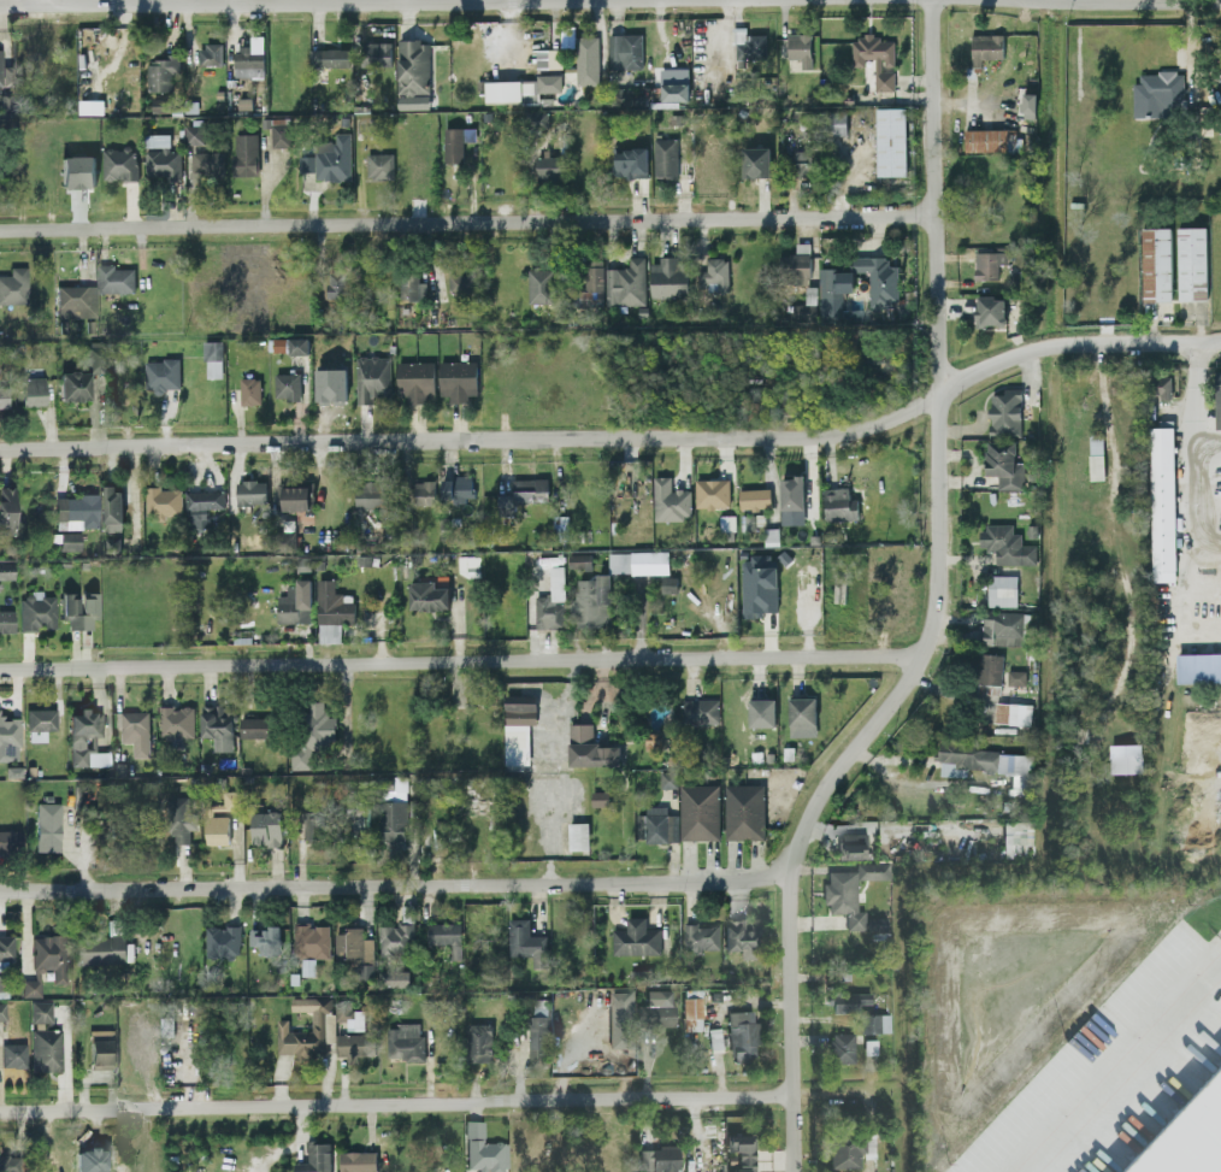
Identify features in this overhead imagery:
road: (51, 0)
road: (1127, 1)
building: (748, 45)
building: (985, 47)
building: (800, 48)
building: (625, 51)
building: (374, 53)
building: (210, 54)
building: (329, 57)
building: (249, 58)
building: (548, 58)
building: (875, 58)
building: (586, 59)
building: (5, 71)
building: (161, 71)
building: (413, 73)
building: (521, 88)
building: (674, 90)
building: (1157, 93)
building: (1028, 102)
building: (90, 106)
building: (837, 122)
building: (279, 131)
building: (195, 132)
building: (990, 139)
building: (890, 140)
building: (456, 142)
building: (244, 153)
building: (161, 155)
building: (665, 157)
building: (332, 158)
building: (206, 161)
building: (630, 161)
building: (715, 161)
building: (756, 161)
building: (119, 163)
building: (804, 163)
building: (379, 165)
building: (548, 166)
building: (77, 170)
road: (470, 218)
building: (989, 260)
building: (1155, 263)
building: (1191, 263)
building: (794, 266)
building: (714, 273)
building: (668, 277)
building: (114, 278)
building: (879, 278)
building: (337, 282)
building: (461, 282)
building: (625, 283)
building: (14, 284)
building: (590, 284)
building: (412, 285)
building: (539, 285)
building: (833, 289)
building: (76, 299)
building: (990, 311)
building: (290, 344)
building: (95, 355)
building: (213, 358)
building: (881, 363)
building: (161, 373)
building: (372, 377)
building: (458, 379)
building: (415, 381)
building: (75, 384)
building: (287, 385)
building: (1162, 387)
building: (33, 389)
road: (1197, 389)
building: (250, 390)
building: (4, 395)
building: (1217, 399)
building: (1005, 412)
road: (620, 437)
road: (1209, 440)
building: (1004, 464)
building: (456, 488)
building: (250, 491)
building: (423, 491)
building: (712, 491)
building: (371, 493)
building: (521, 494)
building: (294, 495)
building: (754, 497)
building: (670, 500)
building: (791, 500)
building: (163, 501)
building: (1162, 502)
building: (839, 503)
building: (201, 506)
building: (112, 507)
building: (6, 508)
building: (76, 510)
building: (750, 520)
building: (560, 522)
building: (70, 538)
building: (1005, 544)
road: (1199, 548)
building: (579, 560)
building: (638, 561)
building: (668, 583)
building: (757, 585)
building: (1002, 589)
building: (427, 595)
building: (591, 600)
building: (551, 601)
building: (295, 602)
road: (937, 606)
building: (79, 607)
building: (37, 609)
building: (332, 609)
building: (6, 619)
building: (1002, 628)
road: (461, 659)
building: (989, 667)
building: (1198, 667)
building: (1015, 676)
building: (701, 709)
building: (520, 711)
building: (802, 711)
building: (1013, 711)
building: (761, 712)
building: (41, 722)
building: (177, 722)
building: (217, 724)
building: (255, 726)
building: (8, 730)
building: (313, 730)
building: (136, 731)
building: (87, 737)
building: (654, 740)
building: (589, 747)
building: (1125, 759)
building: (986, 762)
building: (668, 778)
building: (600, 797)
building: (231, 799)
building: (698, 811)
building: (744, 811)
building: (354, 817)
building: (182, 819)
building: (391, 823)
building: (48, 825)
building: (307, 825)
building: (656, 825)
building: (267, 828)
building: (217, 829)
building: (578, 835)
building: (10, 838)
building: (1017, 840)
building: (853, 850)
road: (394, 884)
building: (850, 895)
building: (446, 936)
building: (636, 937)
building: (265, 938)
building: (702, 938)
building: (223, 940)
building: (311, 940)
building: (395, 940)
building: (742, 940)
building: (527, 942)
building: (353, 943)
building: (6, 946)
building: (105, 946)
building: (49, 956)
building: (394, 977)
building: (1, 983)
building: (31, 987)
building: (854, 1003)
building: (2, 1009)
building: (41, 1009)
building: (659, 1012)
building: (694, 1012)
building: (349, 1014)
building: (623, 1020)
building: (318, 1024)
building: (877, 1025)
building: (537, 1035)
building: (744, 1038)
building: (406, 1041)
building: (479, 1041)
building: (350, 1044)
building: (46, 1047)
building: (101, 1047)
building: (140, 1049)
building: (844, 1049)
building: (14, 1053)
road: (1120, 1064)
road: (396, 1102)
building: (1190, 1138)
building: (744, 1152)
building: (851, 1153)
building: (315, 1158)
building: (488, 1158)
building: (660, 1160)
building: (358, 1161)
building: (8, 1162)

